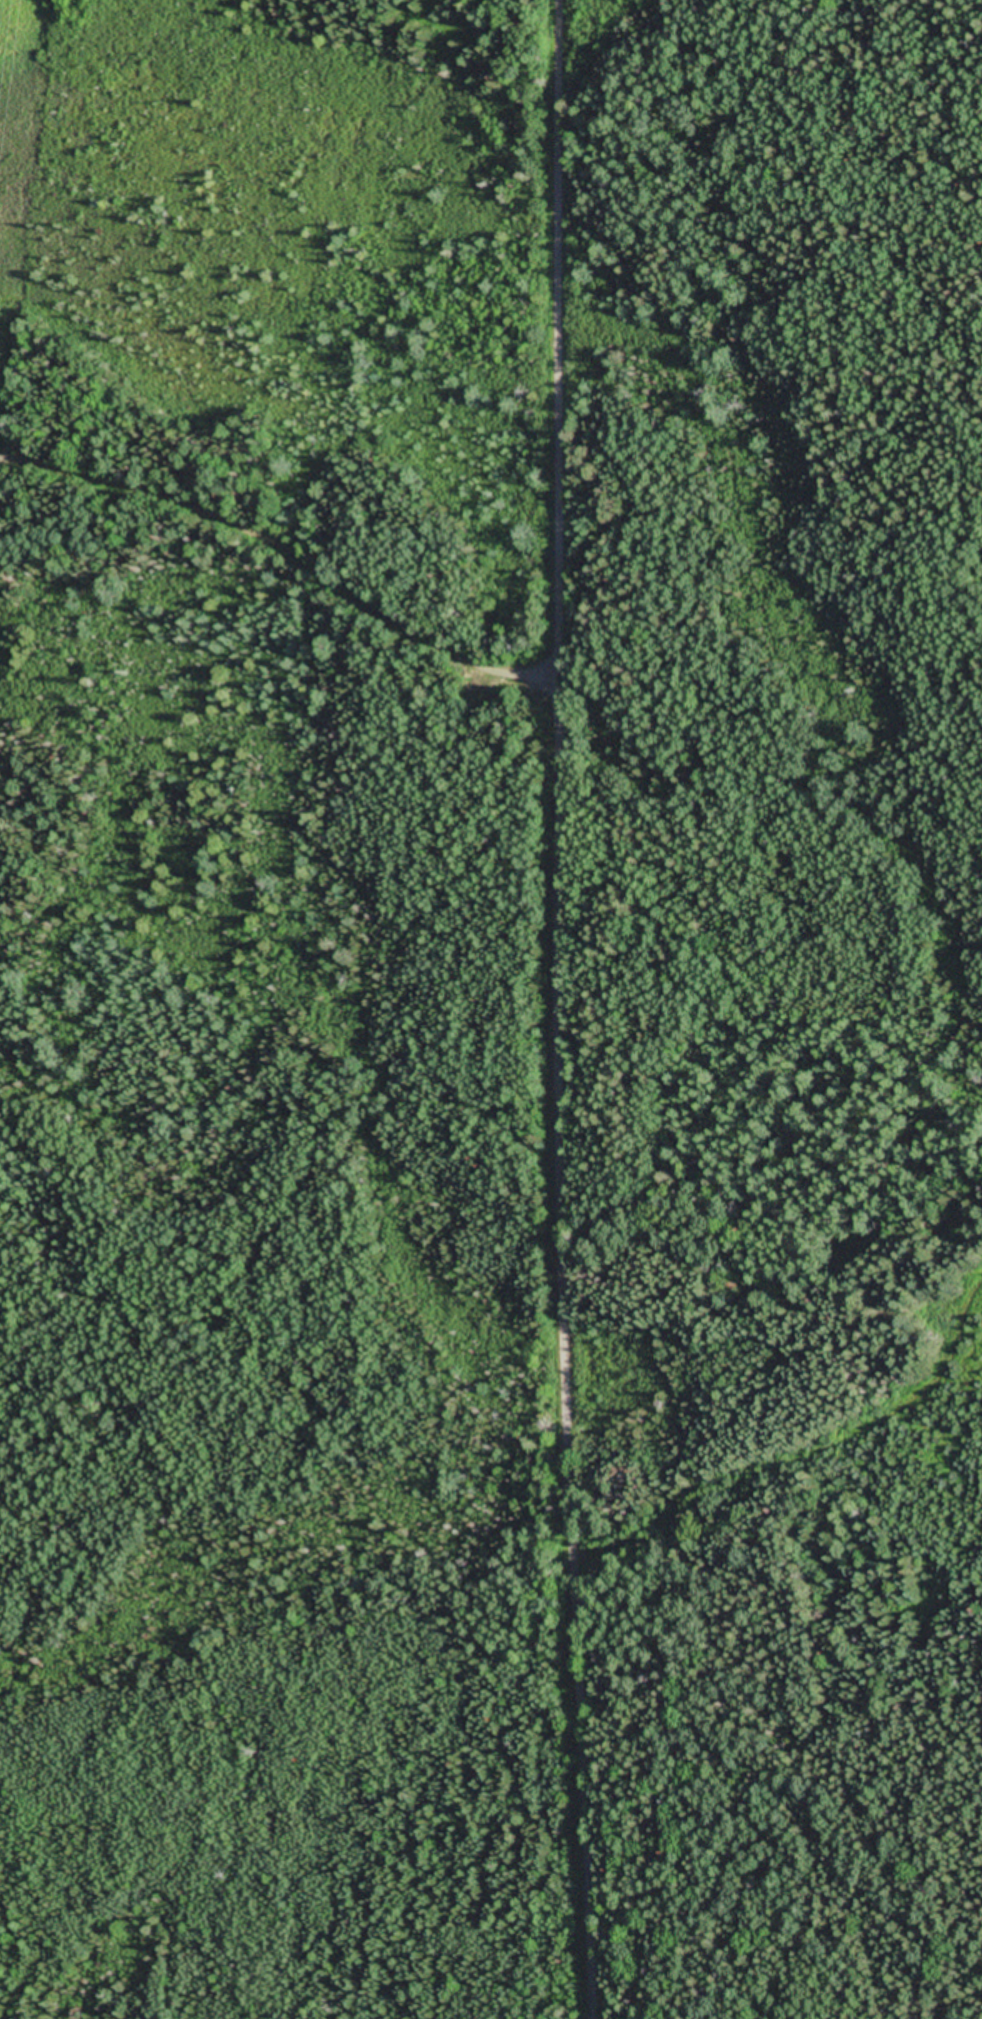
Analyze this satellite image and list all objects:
road: (762, 180)
road: (285, 556)
road: (559, 1009)
road: (793, 1426)

